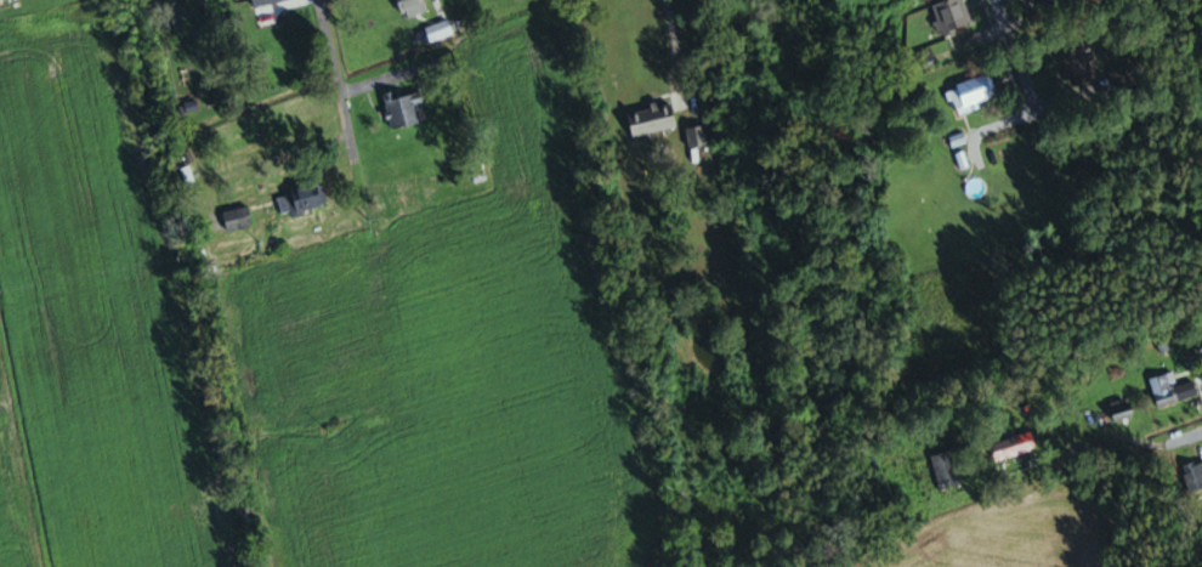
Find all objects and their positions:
building: (262, 2)
building: (1039, 2)
building: (412, 7)
building: (952, 15)
building: (438, 30)
road: (998, 32)
road: (673, 42)
building: (922, 59)
building: (442, 62)
building: (1077, 64)
road: (329, 75)
building: (971, 93)
building: (403, 109)
building: (652, 120)
building: (696, 137)
building: (307, 199)
building: (237, 220)
building: (1170, 390)
building: (1121, 410)
road: (1184, 436)
building: (1013, 446)
building: (946, 470)
building: (1194, 476)

